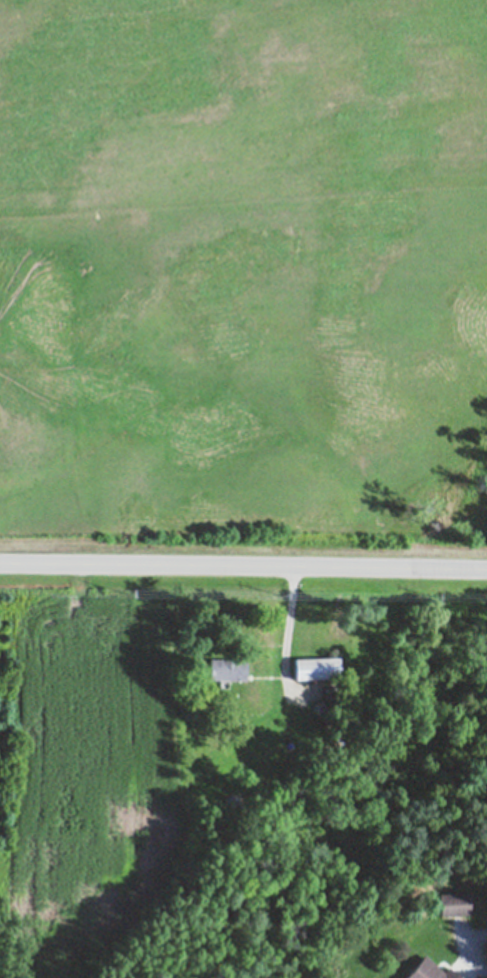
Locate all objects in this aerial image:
road: (243, 562)
road: (287, 617)
building: (315, 668)
building: (226, 669)
building: (452, 903)
road: (470, 947)
building: (429, 970)

